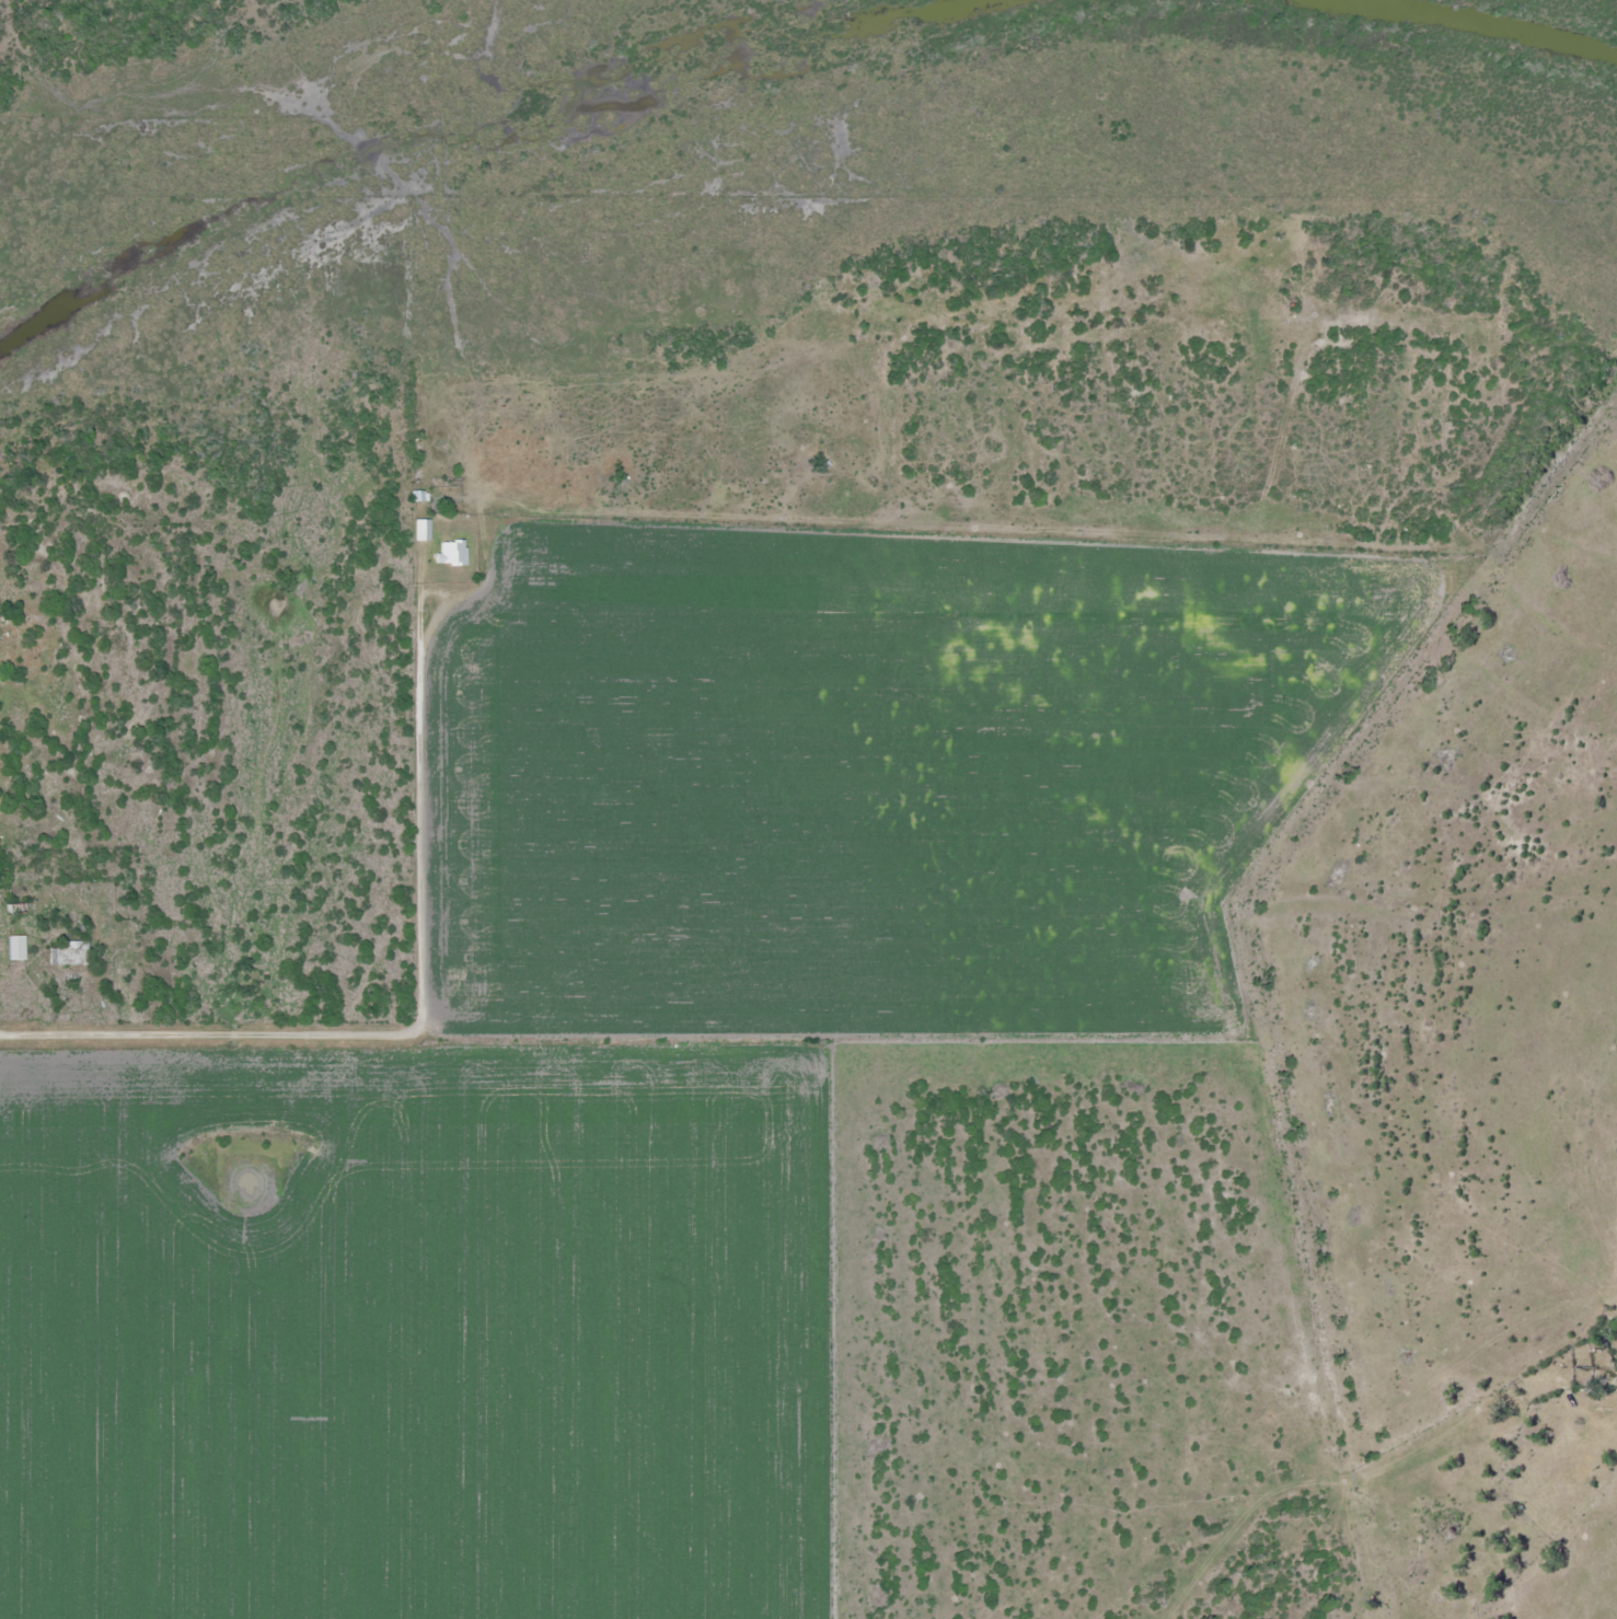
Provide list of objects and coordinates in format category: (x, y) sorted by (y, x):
building: (423, 530)
building: (452, 553)
building: (16, 948)
building: (70, 953)
road: (409, 1030)

